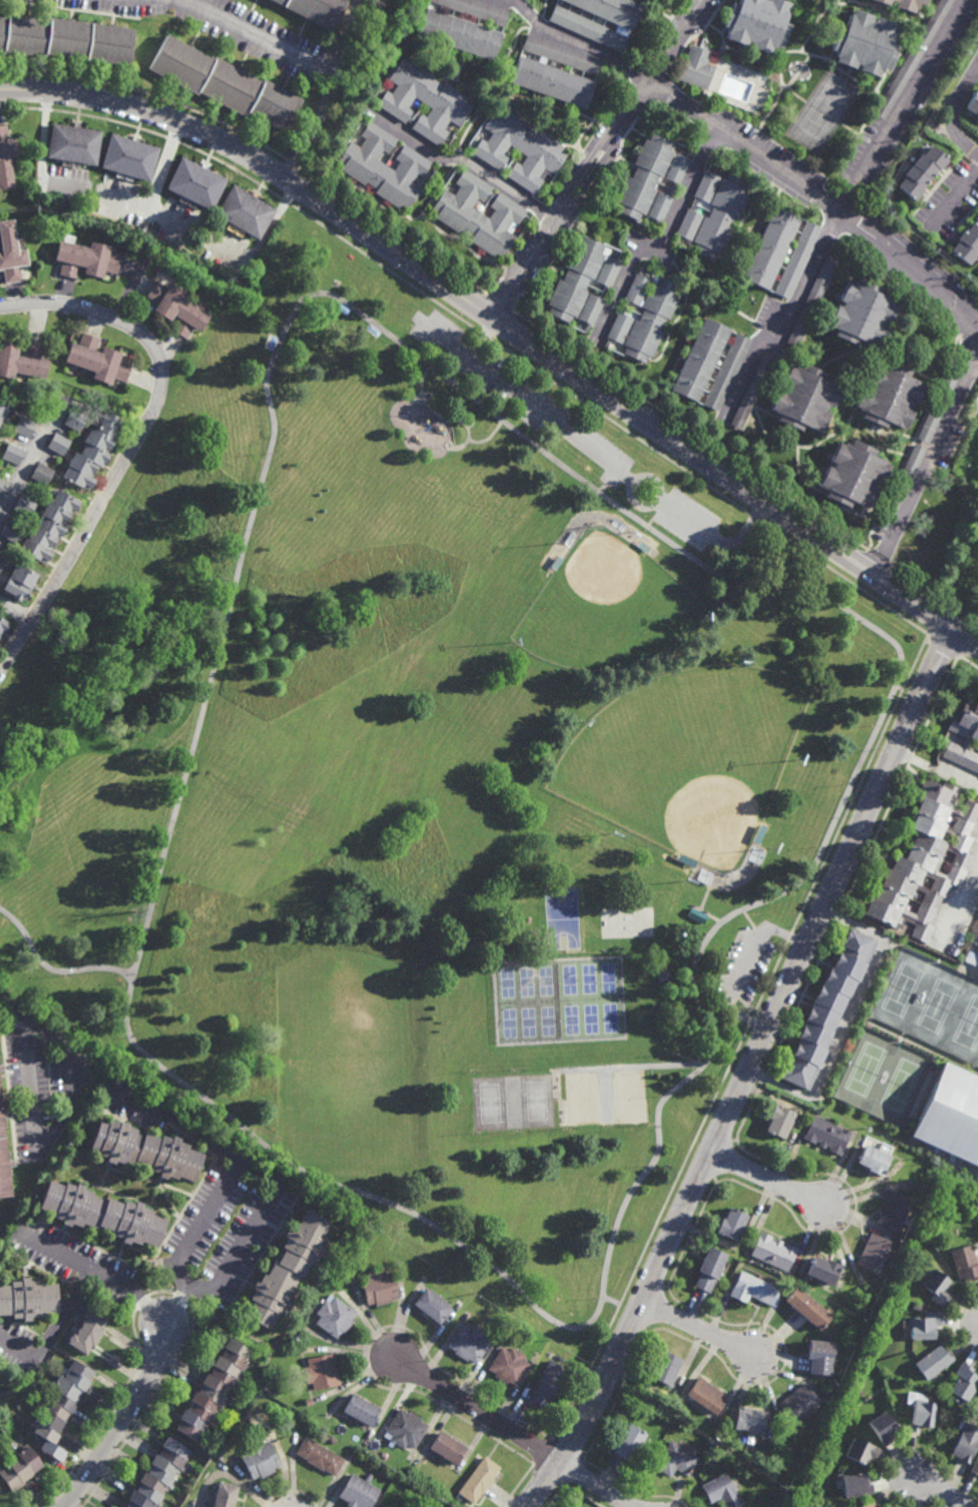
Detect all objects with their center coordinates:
building: (901, 4)
building: (317, 9)
building: (477, 10)
building: (609, 10)
building: (757, 24)
building: (587, 28)
building: (458, 33)
road: (260, 34)
road: (348, 35)
building: (65, 39)
road: (579, 41)
building: (863, 44)
building: (972, 47)
building: (562, 54)
building: (697, 67)
road: (654, 70)
building: (552, 82)
building: (224, 84)
building: (425, 100)
building: (973, 103)
road: (953, 113)
road: (314, 126)
building: (73, 145)
road: (743, 145)
building: (519, 148)
building: (6, 157)
building: (128, 157)
road: (467, 159)
building: (384, 166)
building: (677, 168)
building: (922, 171)
road: (579, 174)
building: (644, 176)
road: (591, 180)
building: (194, 184)
building: (705, 185)
road: (159, 186)
road: (954, 197)
building: (659, 205)
building: (245, 210)
building: (478, 213)
building: (720, 215)
building: (688, 223)
road: (661, 238)
building: (967, 241)
building: (770, 246)
building: (10, 252)
building: (85, 257)
building: (797, 259)
road: (527, 264)
building: (608, 271)
road: (918, 273)
building: (575, 279)
building: (637, 288)
building: (810, 303)
building: (178, 308)
building: (591, 308)
road: (790, 312)
building: (860, 312)
building: (652, 318)
road: (506, 325)
building: (619, 327)
road: (482, 337)
road: (413, 350)
building: (22, 359)
building: (97, 359)
building: (699, 359)
building: (726, 372)
building: (751, 390)
building: (887, 395)
building: (802, 397)
road: (523, 398)
building: (937, 405)
building: (2, 408)
building: (73, 419)
building: (24, 426)
road: (137, 441)
building: (57, 442)
building: (91, 451)
building: (13, 453)
road: (26, 462)
building: (41, 474)
building: (851, 474)
road: (633, 483)
building: (2, 486)
building: (899, 488)
building: (24, 504)
road: (657, 515)
building: (48, 526)
building: (10, 529)
road: (718, 539)
building: (642, 546)
building: (1, 563)
building: (555, 563)
building: (18, 582)
park: (605, 606)
road: (15, 611)
building: (2, 625)
building: (963, 736)
park: (691, 759)
road: (938, 769)
park: (431, 784)
building: (761, 828)
building: (679, 856)
building: (924, 860)
building: (678, 900)
building: (695, 914)
park: (563, 918)
road: (751, 922)
building: (974, 934)
road: (671, 943)
building: (970, 957)
road: (745, 967)
road: (53, 970)
building: (662, 974)
park: (588, 977)
park: (607, 977)
park: (568, 979)
park: (544, 980)
park: (526, 981)
park: (506, 982)
building: (825, 1007)
road: (12, 1010)
park: (609, 1017)
park: (590, 1018)
park: (570, 1019)
park: (547, 1020)
park: (527, 1021)
park: (508, 1022)
building: (2, 1066)
road: (631, 1066)
road: (748, 1072)
road: (605, 1095)
park: (628, 1095)
park: (582, 1099)
park: (536, 1100)
park: (489, 1102)
building: (951, 1113)
building: (778, 1120)
road: (49, 1133)
building: (826, 1134)
building: (142, 1150)
building: (871, 1158)
building: (3, 1159)
road: (534, 1172)
road: (258, 1175)
road: (768, 1179)
road: (576, 1191)
road: (626, 1204)
building: (892, 1210)
building: (101, 1214)
building: (731, 1223)
road: (193, 1240)
building: (772, 1251)
building: (872, 1252)
building: (964, 1263)
building: (709, 1268)
building: (819, 1270)
building: (287, 1271)
road: (96, 1276)
building: (379, 1287)
building: (936, 1287)
building: (753, 1288)
building: (27, 1301)
road: (622, 1304)
building: (432, 1305)
building: (806, 1308)
building: (334, 1317)
road: (564, 1324)
building: (921, 1325)
road: (701, 1328)
road: (51, 1331)
building: (87, 1333)
building: (468, 1342)
building: (819, 1357)
building: (932, 1362)
building: (507, 1364)
building: (663, 1368)
building: (321, 1372)
building: (547, 1383)
building: (964, 1383)
building: (212, 1392)
building: (706, 1396)
building: (308, 1402)
building: (796, 1402)
road: (478, 1410)
building: (59, 1411)
building: (361, 1411)
building: (920, 1415)
road: (125, 1417)
building: (748, 1422)
building: (406, 1429)
building: (881, 1429)
building: (331, 1440)
building: (628, 1443)
building: (966, 1444)
building: (445, 1448)
building: (859, 1452)
building: (319, 1457)
building: (676, 1459)
building: (712, 1459)
building: (260, 1461)
building: (975, 1469)
building: (19, 1470)
building: (158, 1475)
building: (477, 1479)
road: (596, 1483)
building: (854, 1486)
building: (721, 1491)
building: (359, 1492)
road: (944, 1492)
building: (224, 1496)
building: (865, 1504)
building: (382, 1506)

